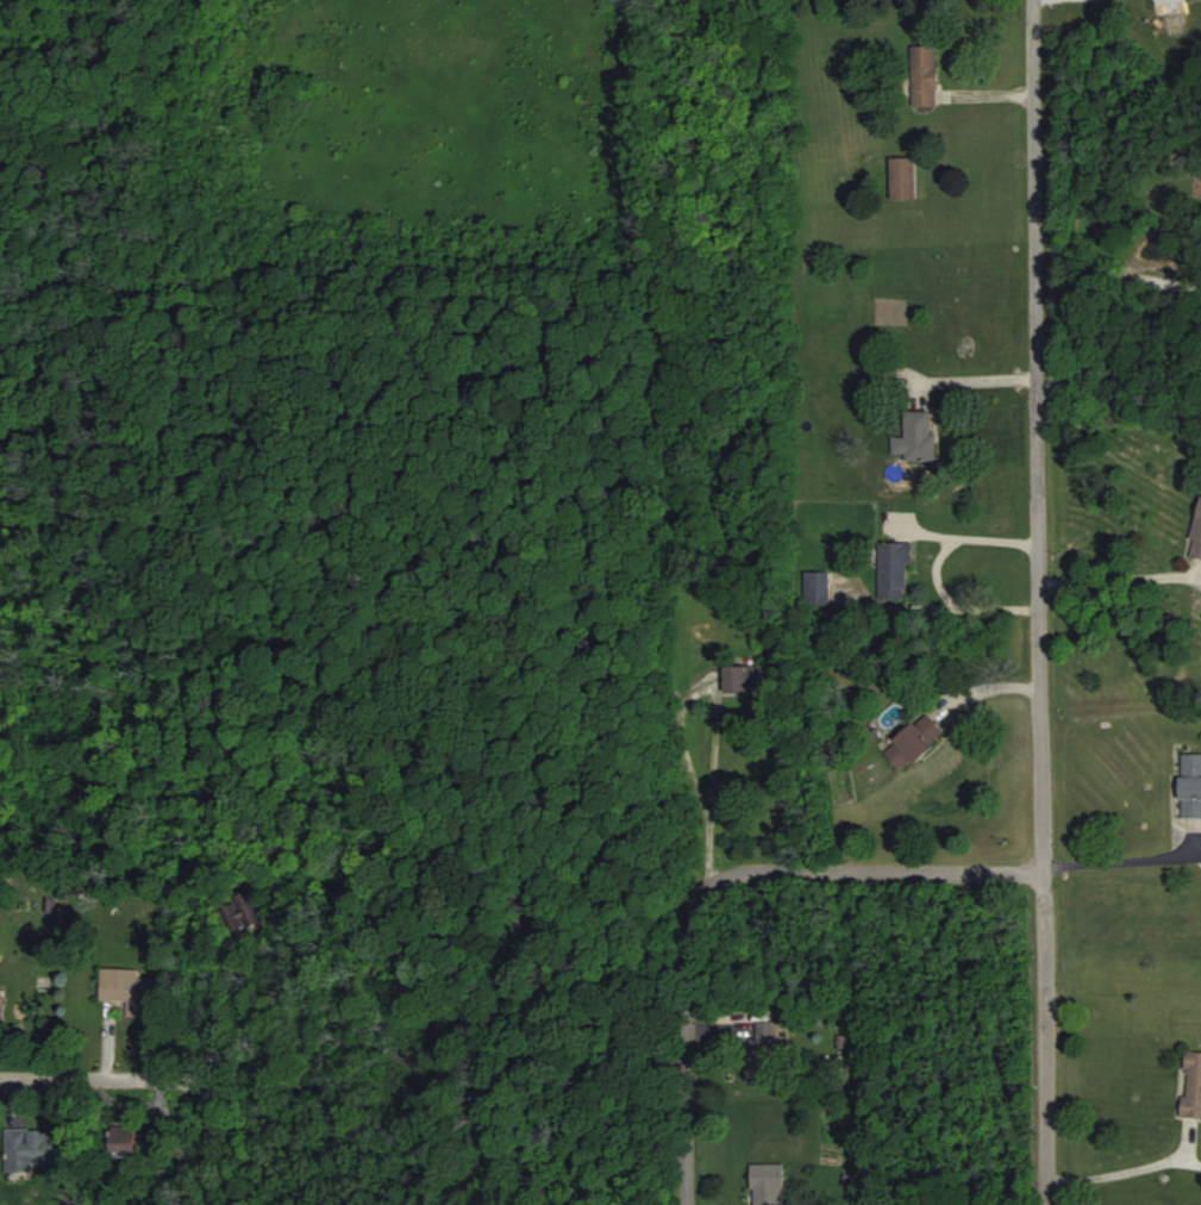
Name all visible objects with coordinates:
building: (924, 75)
building: (902, 177)
road: (1103, 310)
building: (878, 375)
road: (976, 376)
building: (915, 436)
road: (969, 532)
building: (1196, 535)
building: (893, 568)
road: (1120, 577)
building: (815, 587)
road: (1039, 602)
building: (744, 676)
road: (714, 703)
building: (913, 742)
building: (1190, 785)
road: (1128, 857)
road: (876, 866)
building: (238, 911)
building: (127, 989)
building: (0, 1006)
road: (686, 1037)
building: (762, 1051)
road: (158, 1081)
building: (1191, 1084)
building: (123, 1145)
building: (30, 1148)
road: (1118, 1169)
building: (768, 1184)

